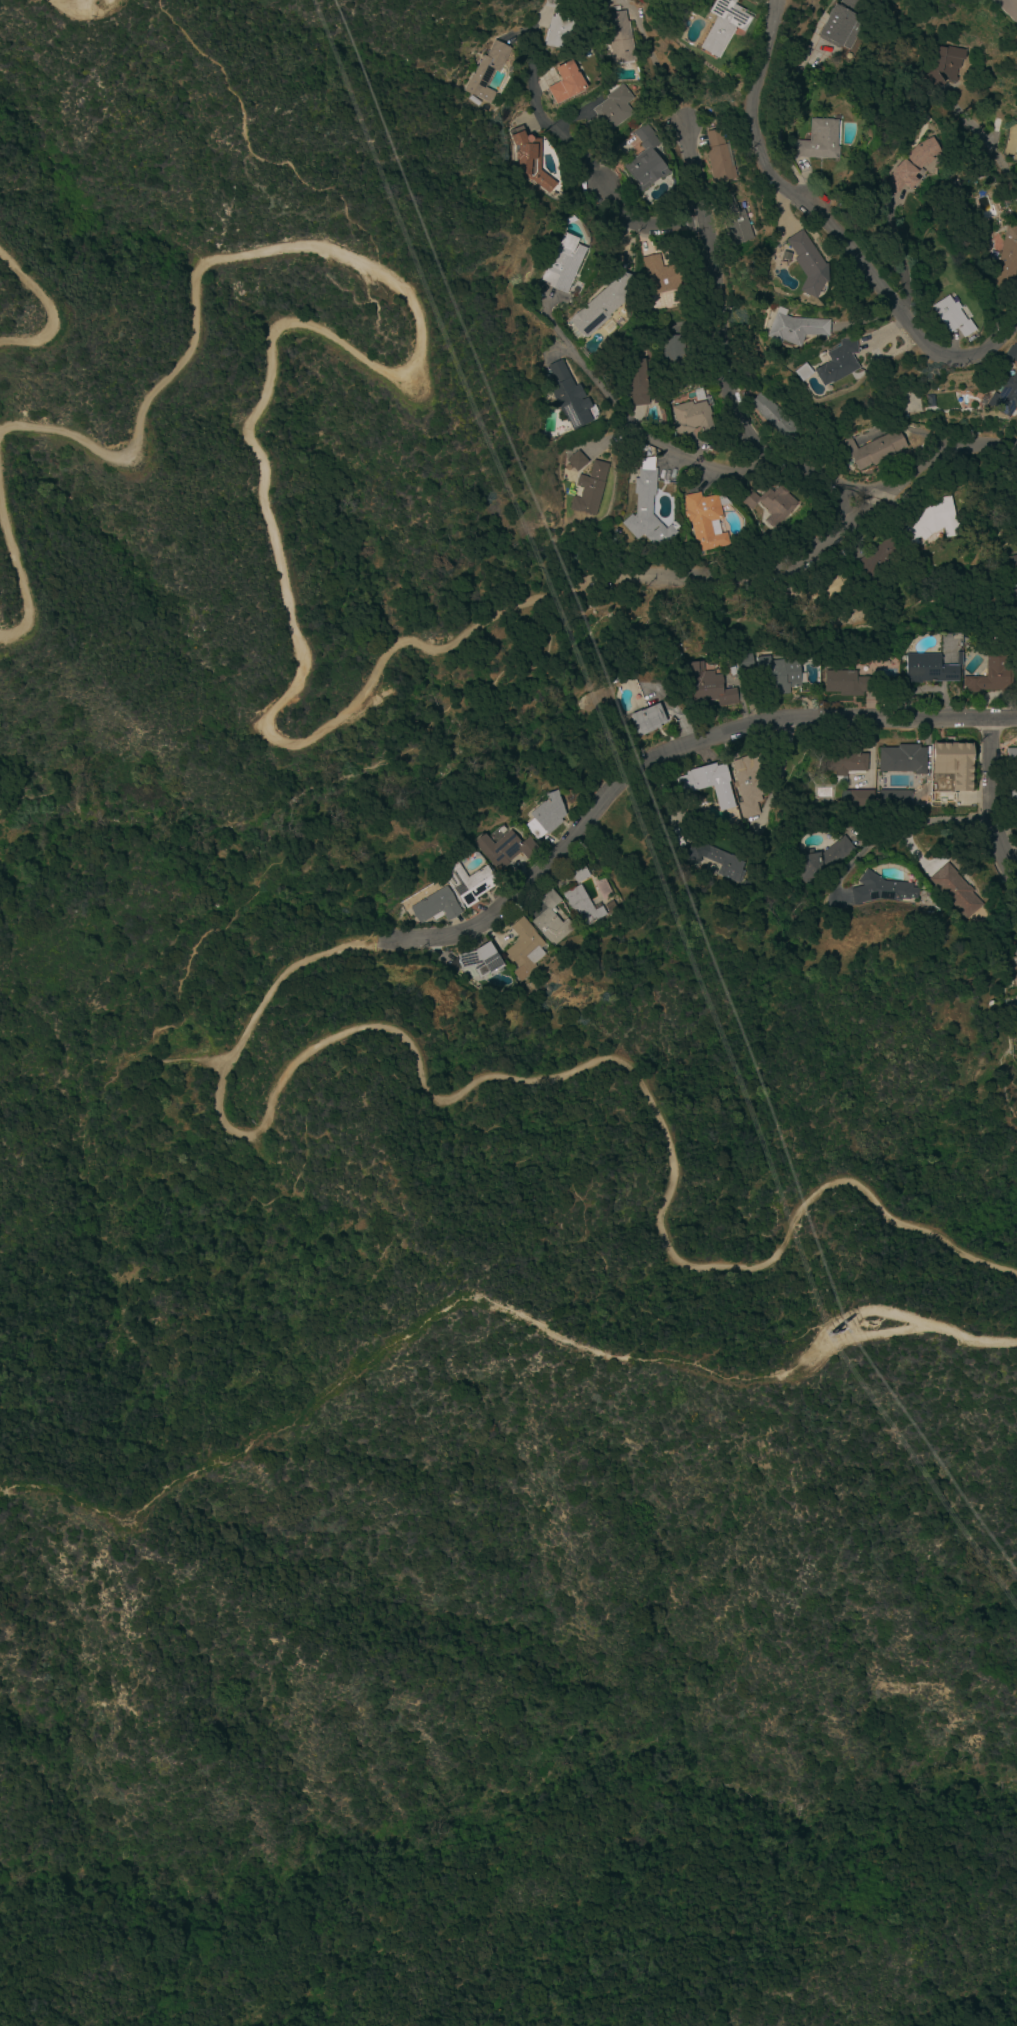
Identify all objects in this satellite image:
road: (55, 0)
building: (1014, 3)
building: (842, 24)
building: (559, 25)
building: (723, 26)
building: (1015, 28)
building: (675, 30)
building: (621, 37)
road: (534, 39)
building: (943, 64)
building: (487, 72)
building: (567, 83)
road: (677, 105)
road: (538, 108)
building: (611, 112)
road: (985, 138)
building: (819, 141)
road: (573, 144)
building: (720, 157)
building: (916, 159)
building: (645, 161)
building: (532, 162)
road: (600, 174)
building: (960, 182)
building: (983, 190)
building: (1009, 197)
building: (1013, 208)
building: (570, 220)
building: (734, 220)
road: (830, 224)
road: (641, 227)
building: (991, 245)
road: (905, 251)
building: (564, 263)
building: (1007, 263)
building: (807, 264)
building: (662, 275)
building: (602, 305)
road: (50, 311)
building: (952, 316)
building: (608, 327)
building: (796, 328)
road: (272, 330)
building: (676, 362)
building: (838, 363)
building: (802, 372)
building: (1010, 378)
building: (639, 382)
building: (568, 397)
road: (611, 401)
building: (918, 402)
road: (738, 403)
building: (690, 417)
building: (774, 417)
building: (872, 450)
building: (577, 461)
road: (701, 466)
building: (590, 489)
building: (770, 504)
road: (844, 504)
building: (646, 507)
building: (704, 520)
building: (933, 523)
road: (816, 553)
building: (881, 562)
road: (18, 573)
building: (1011, 575)
building: (825, 592)
building: (676, 655)
building: (744, 659)
building: (930, 669)
building: (732, 670)
building: (993, 674)
building: (781, 677)
building: (615, 680)
building: (846, 684)
building: (595, 685)
building: (708, 686)
building: (579, 704)
building: (647, 720)
road: (663, 753)
building: (1012, 758)
road: (790, 762)
building: (843, 763)
building: (954, 764)
building: (918, 779)
building: (750, 783)
building: (705, 785)
building: (1011, 797)
road: (995, 798)
building: (857, 799)
road: (926, 815)
building: (545, 816)
building: (741, 828)
building: (680, 838)
building: (504, 849)
building: (690, 854)
building: (821, 859)
building: (724, 864)
building: (702, 868)
building: (579, 874)
building: (469, 884)
building: (748, 884)
building: (602, 888)
building: (879, 890)
building: (955, 891)
building: (435, 906)
building: (582, 906)
building: (610, 906)
building: (551, 921)
building: (525, 949)
building: (1014, 950)
building: (481, 961)
building: (537, 990)
road: (545, 1078)
road: (906, 1331)
power tower: (831, 1338)

